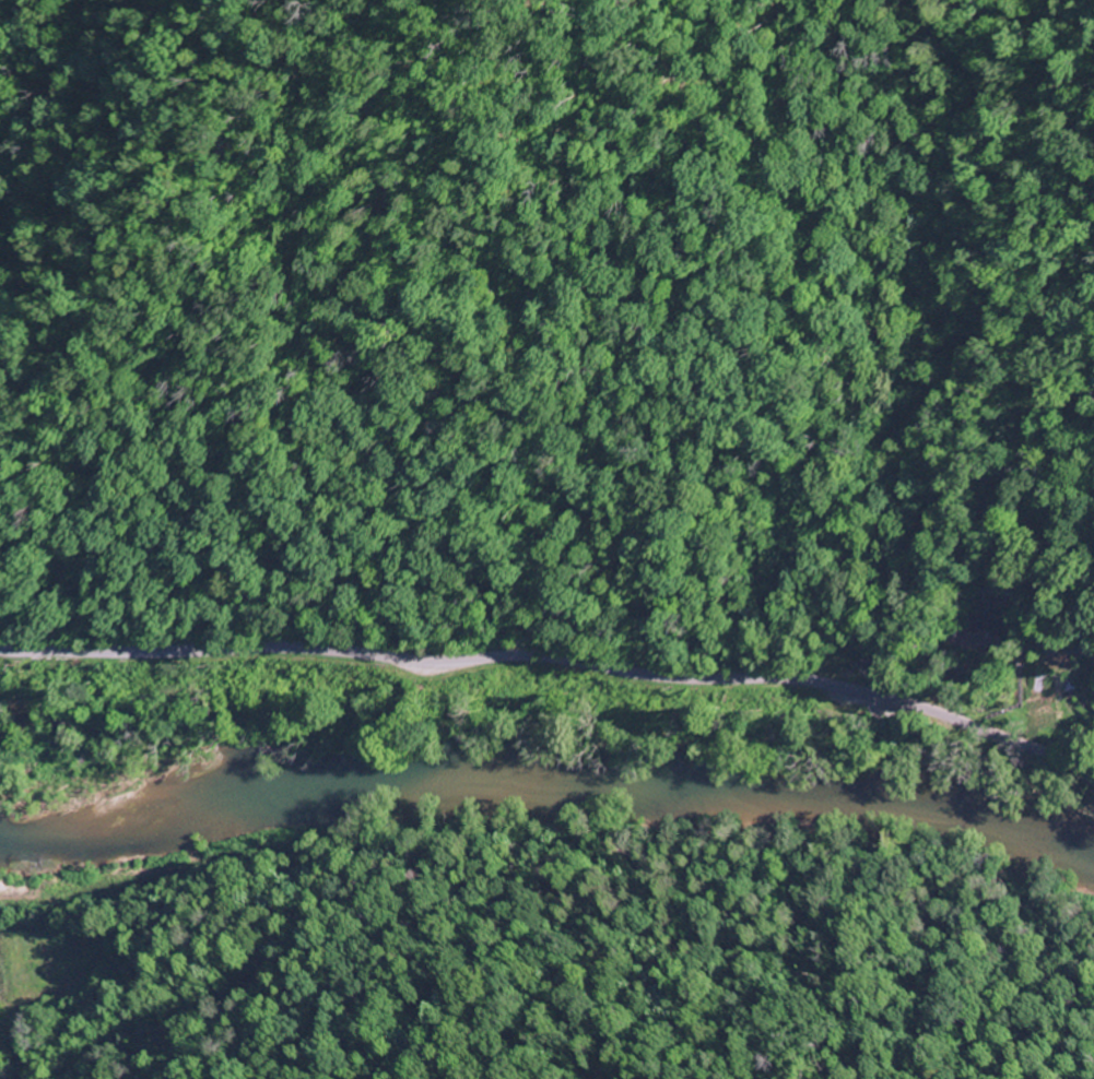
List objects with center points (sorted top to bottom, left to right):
road: (1034, 628)
building: (973, 633)
road: (551, 645)
river: (545, 750)

